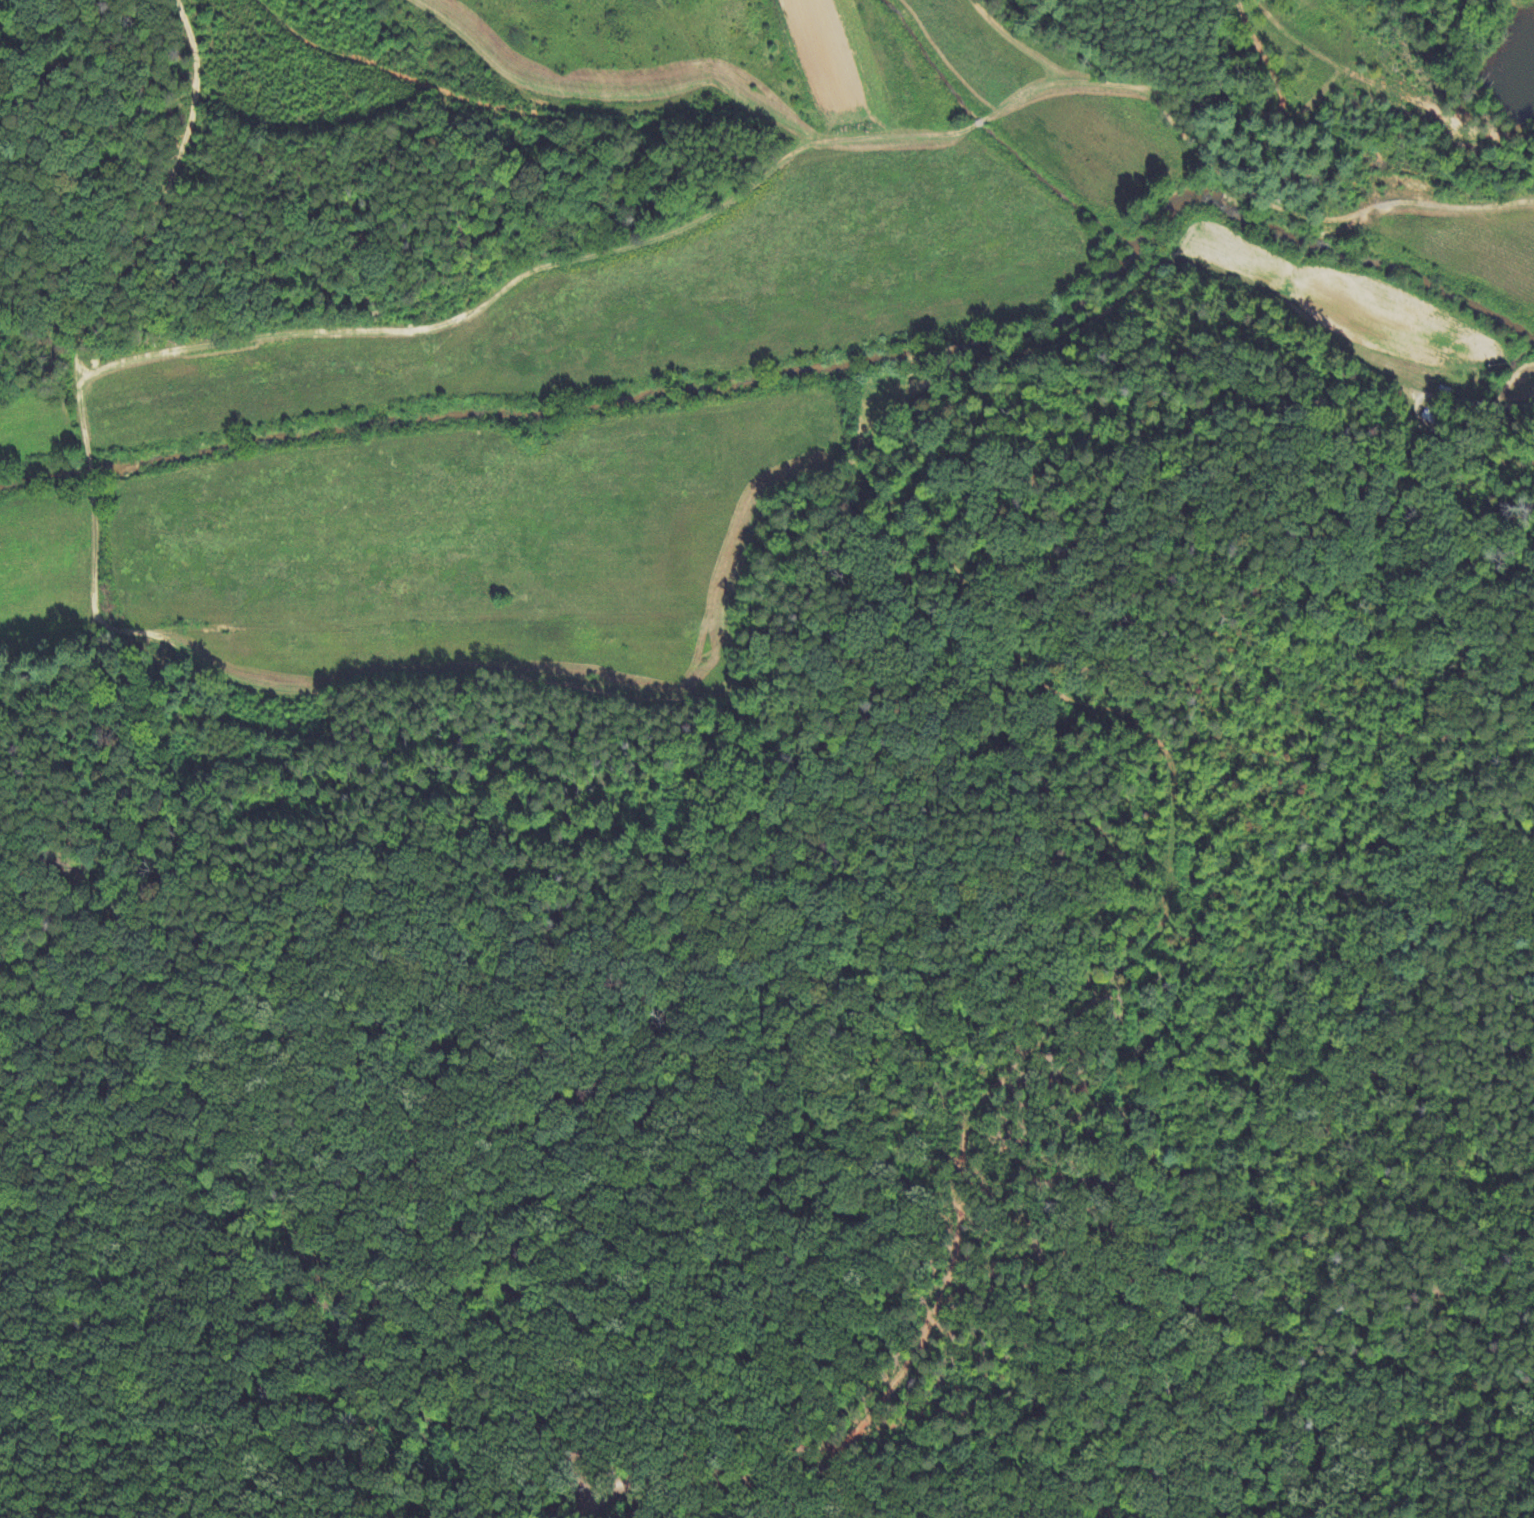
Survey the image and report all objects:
road: (393, 83)
road: (1373, 214)

